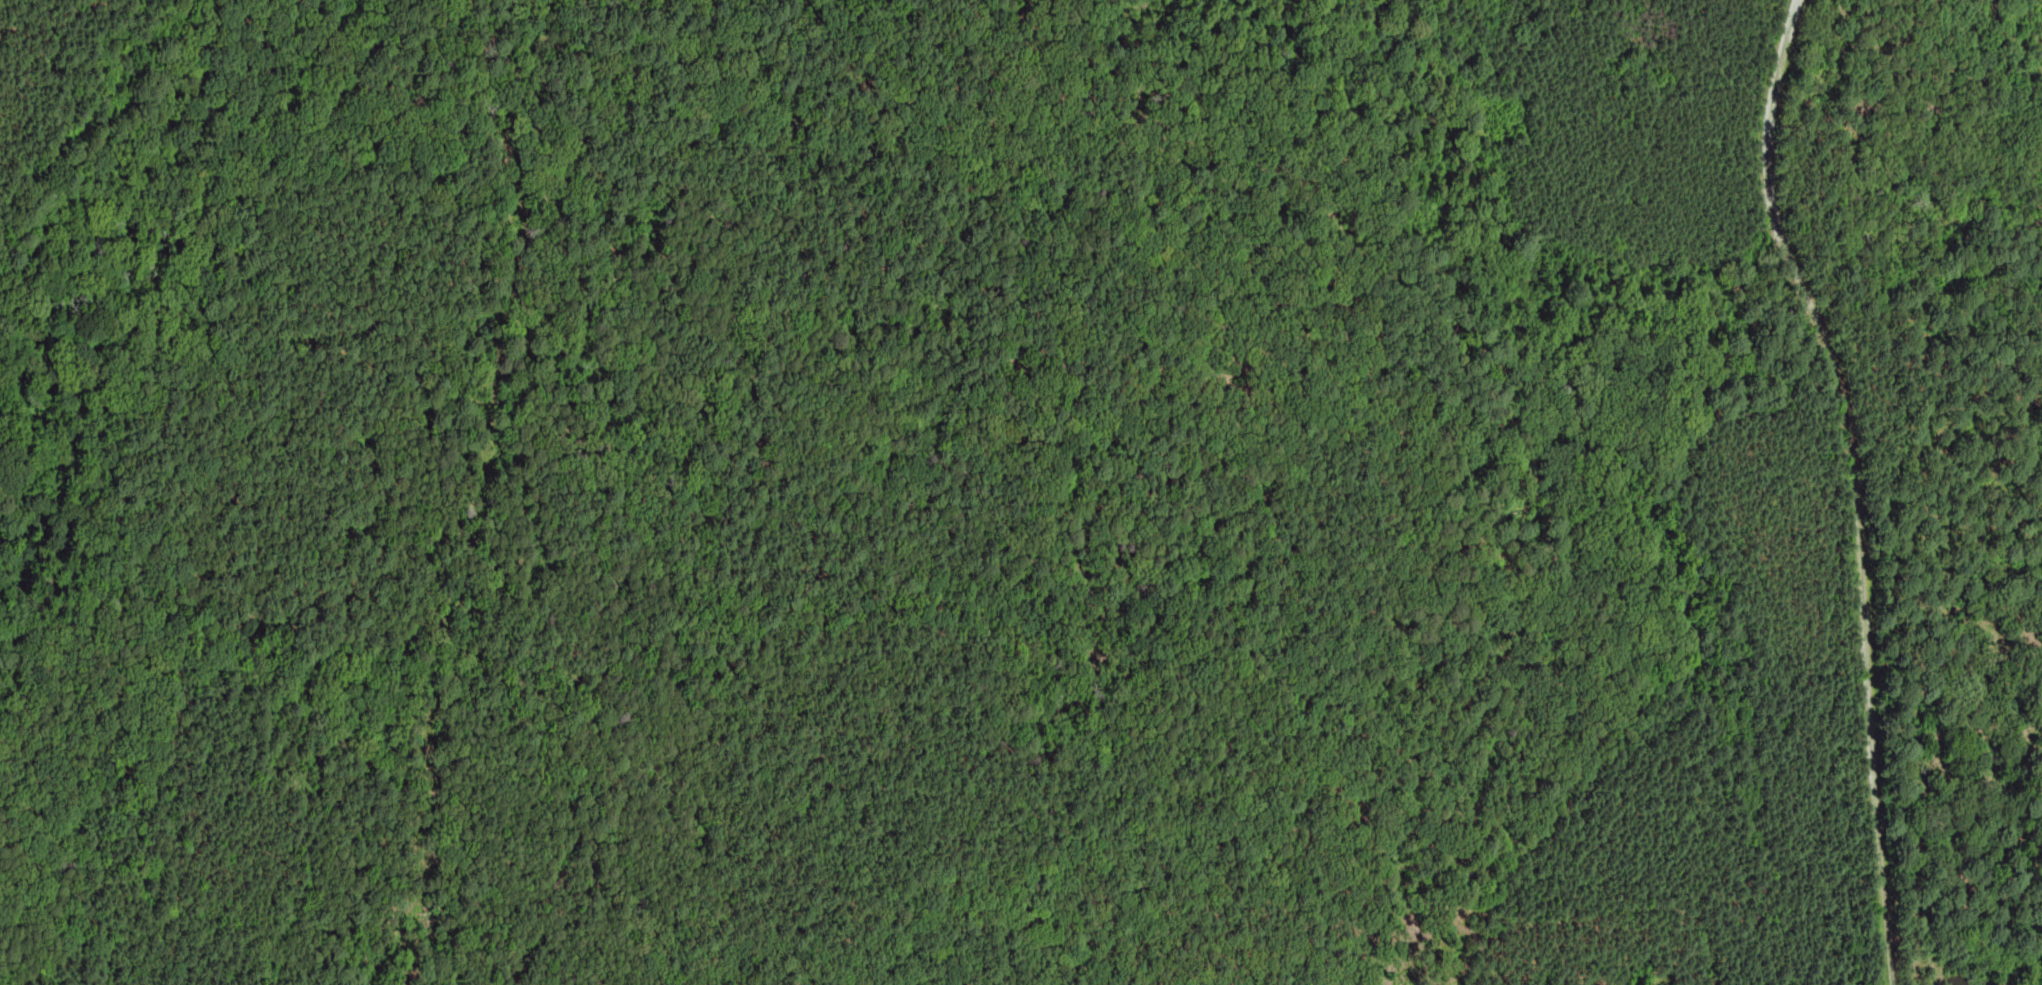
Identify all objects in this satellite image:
road: (1857, 484)

